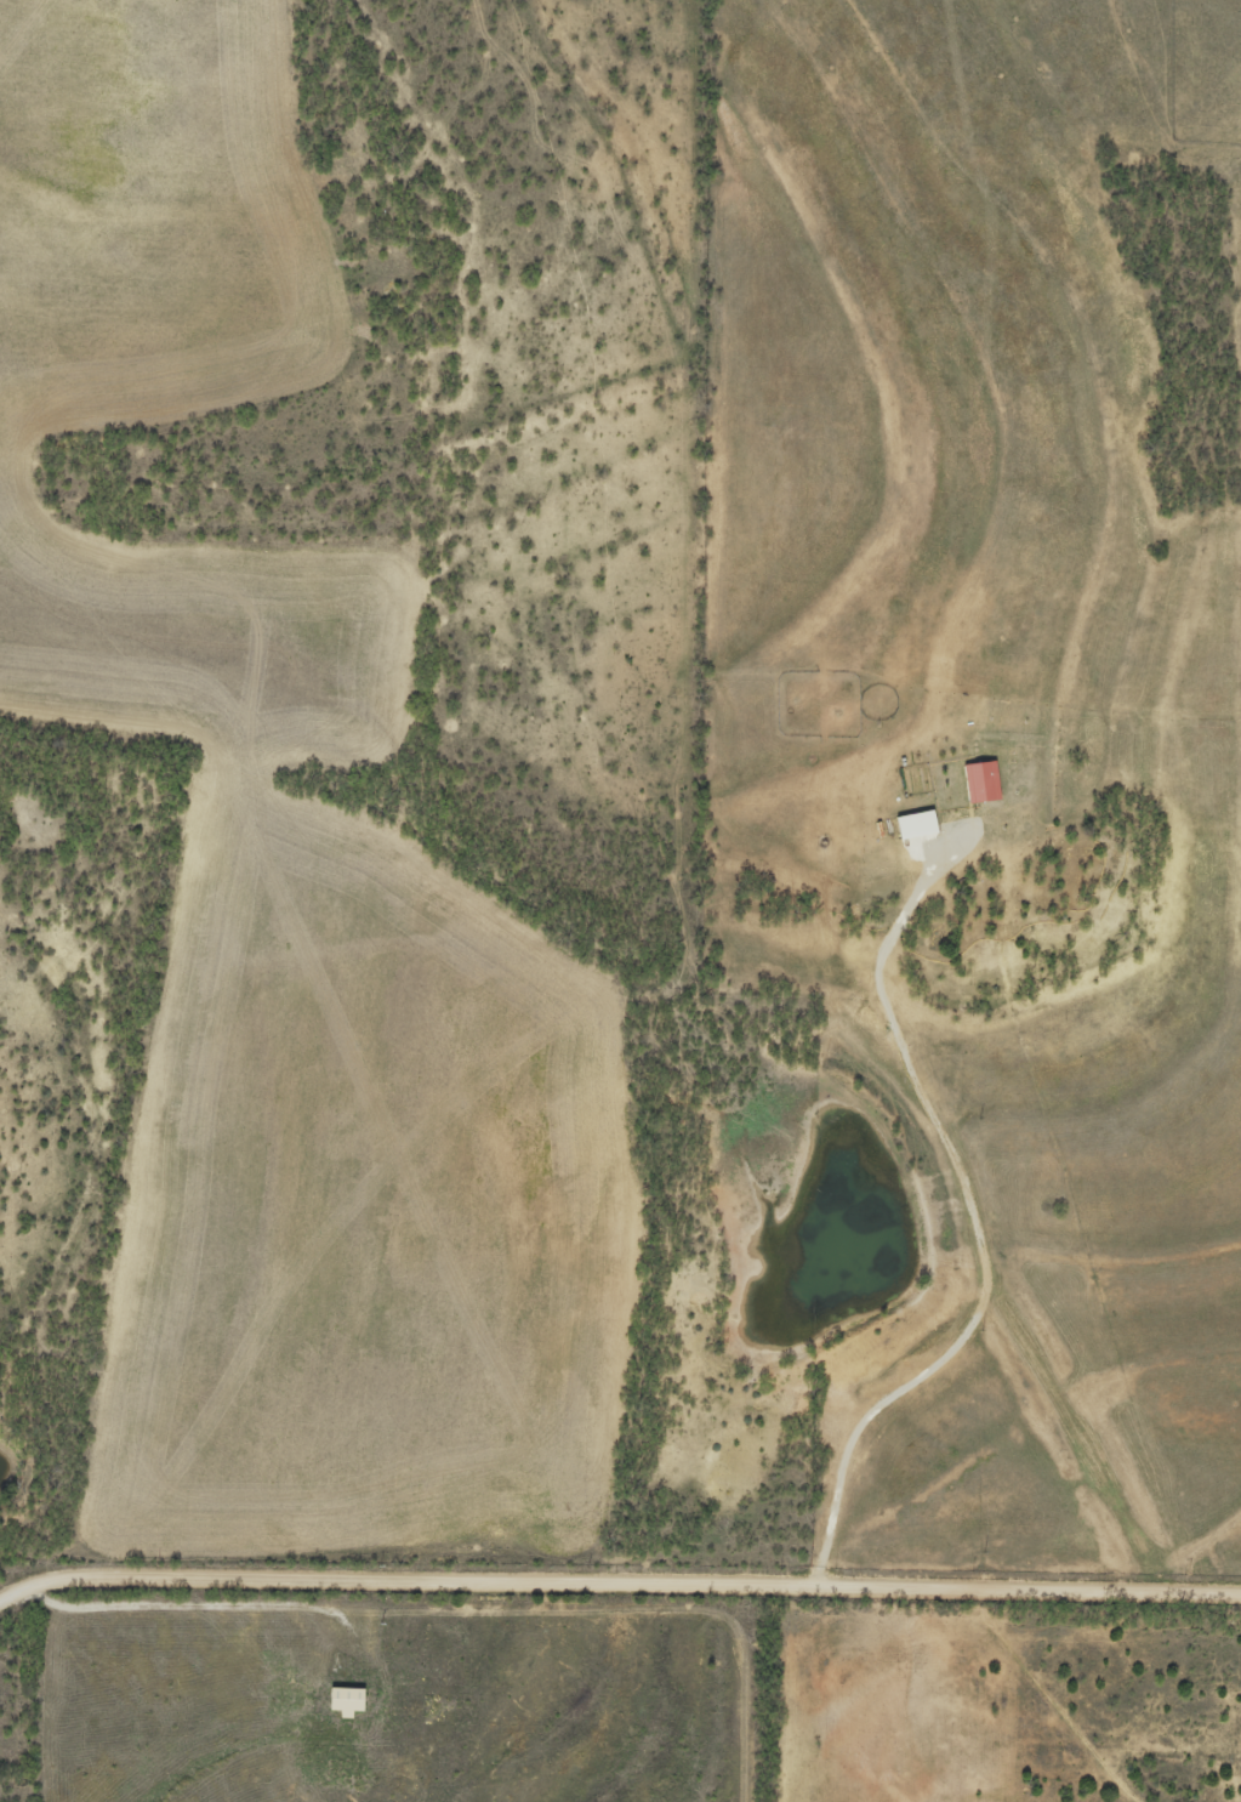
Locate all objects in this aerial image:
road: (619, 1615)

